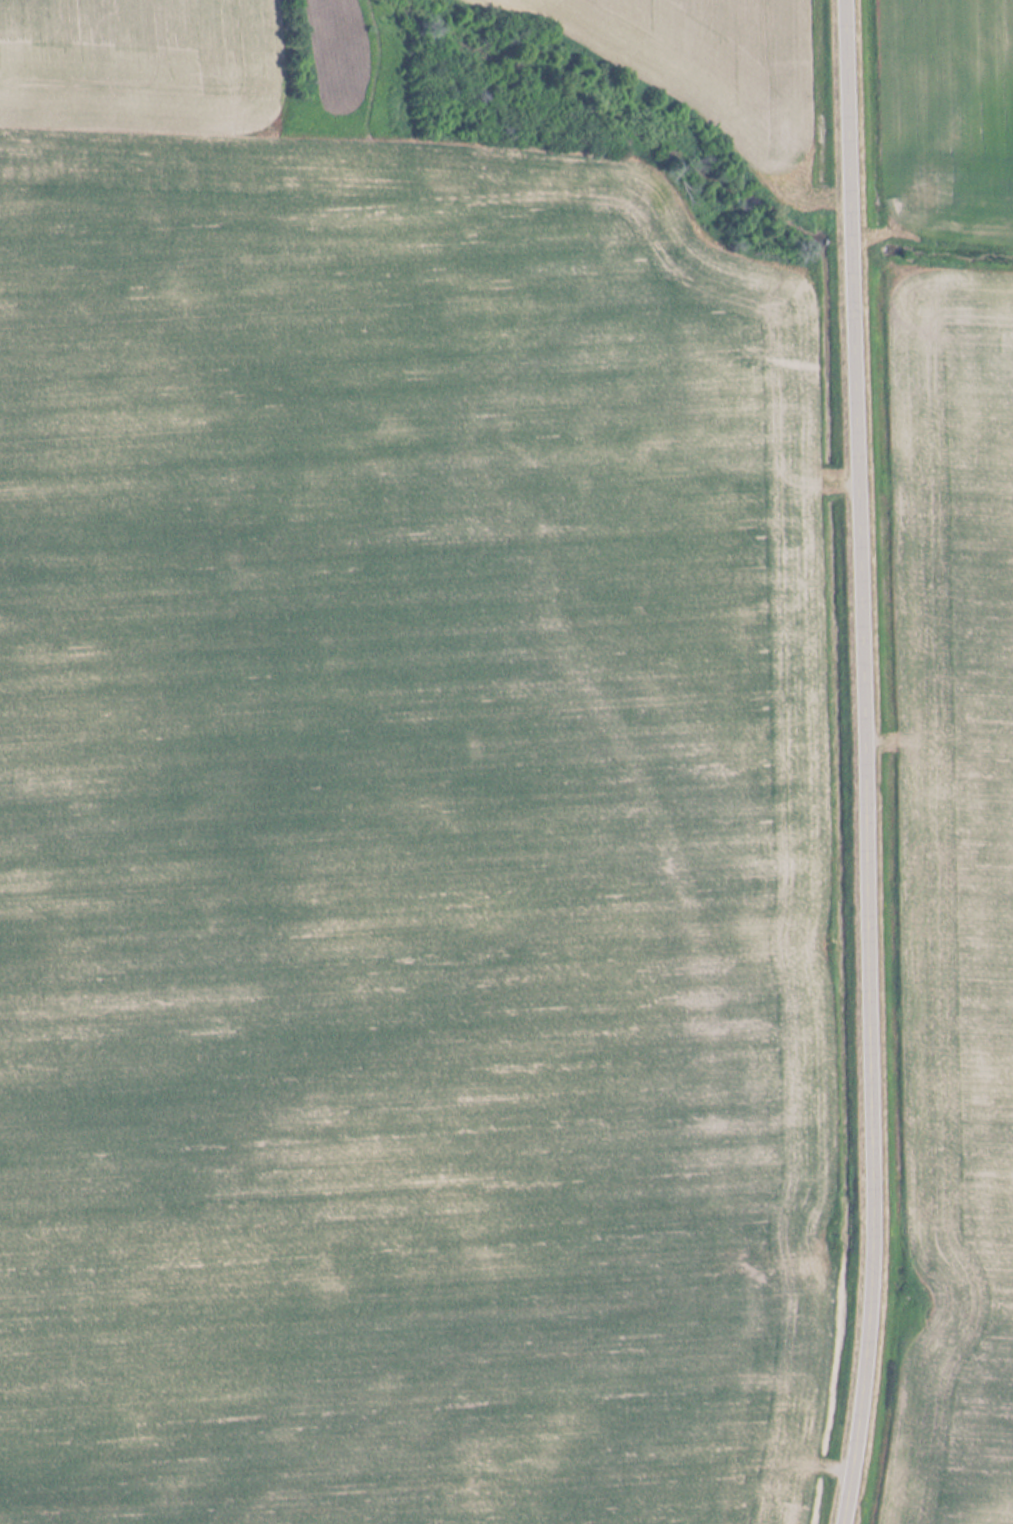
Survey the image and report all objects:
road: (859, 763)

